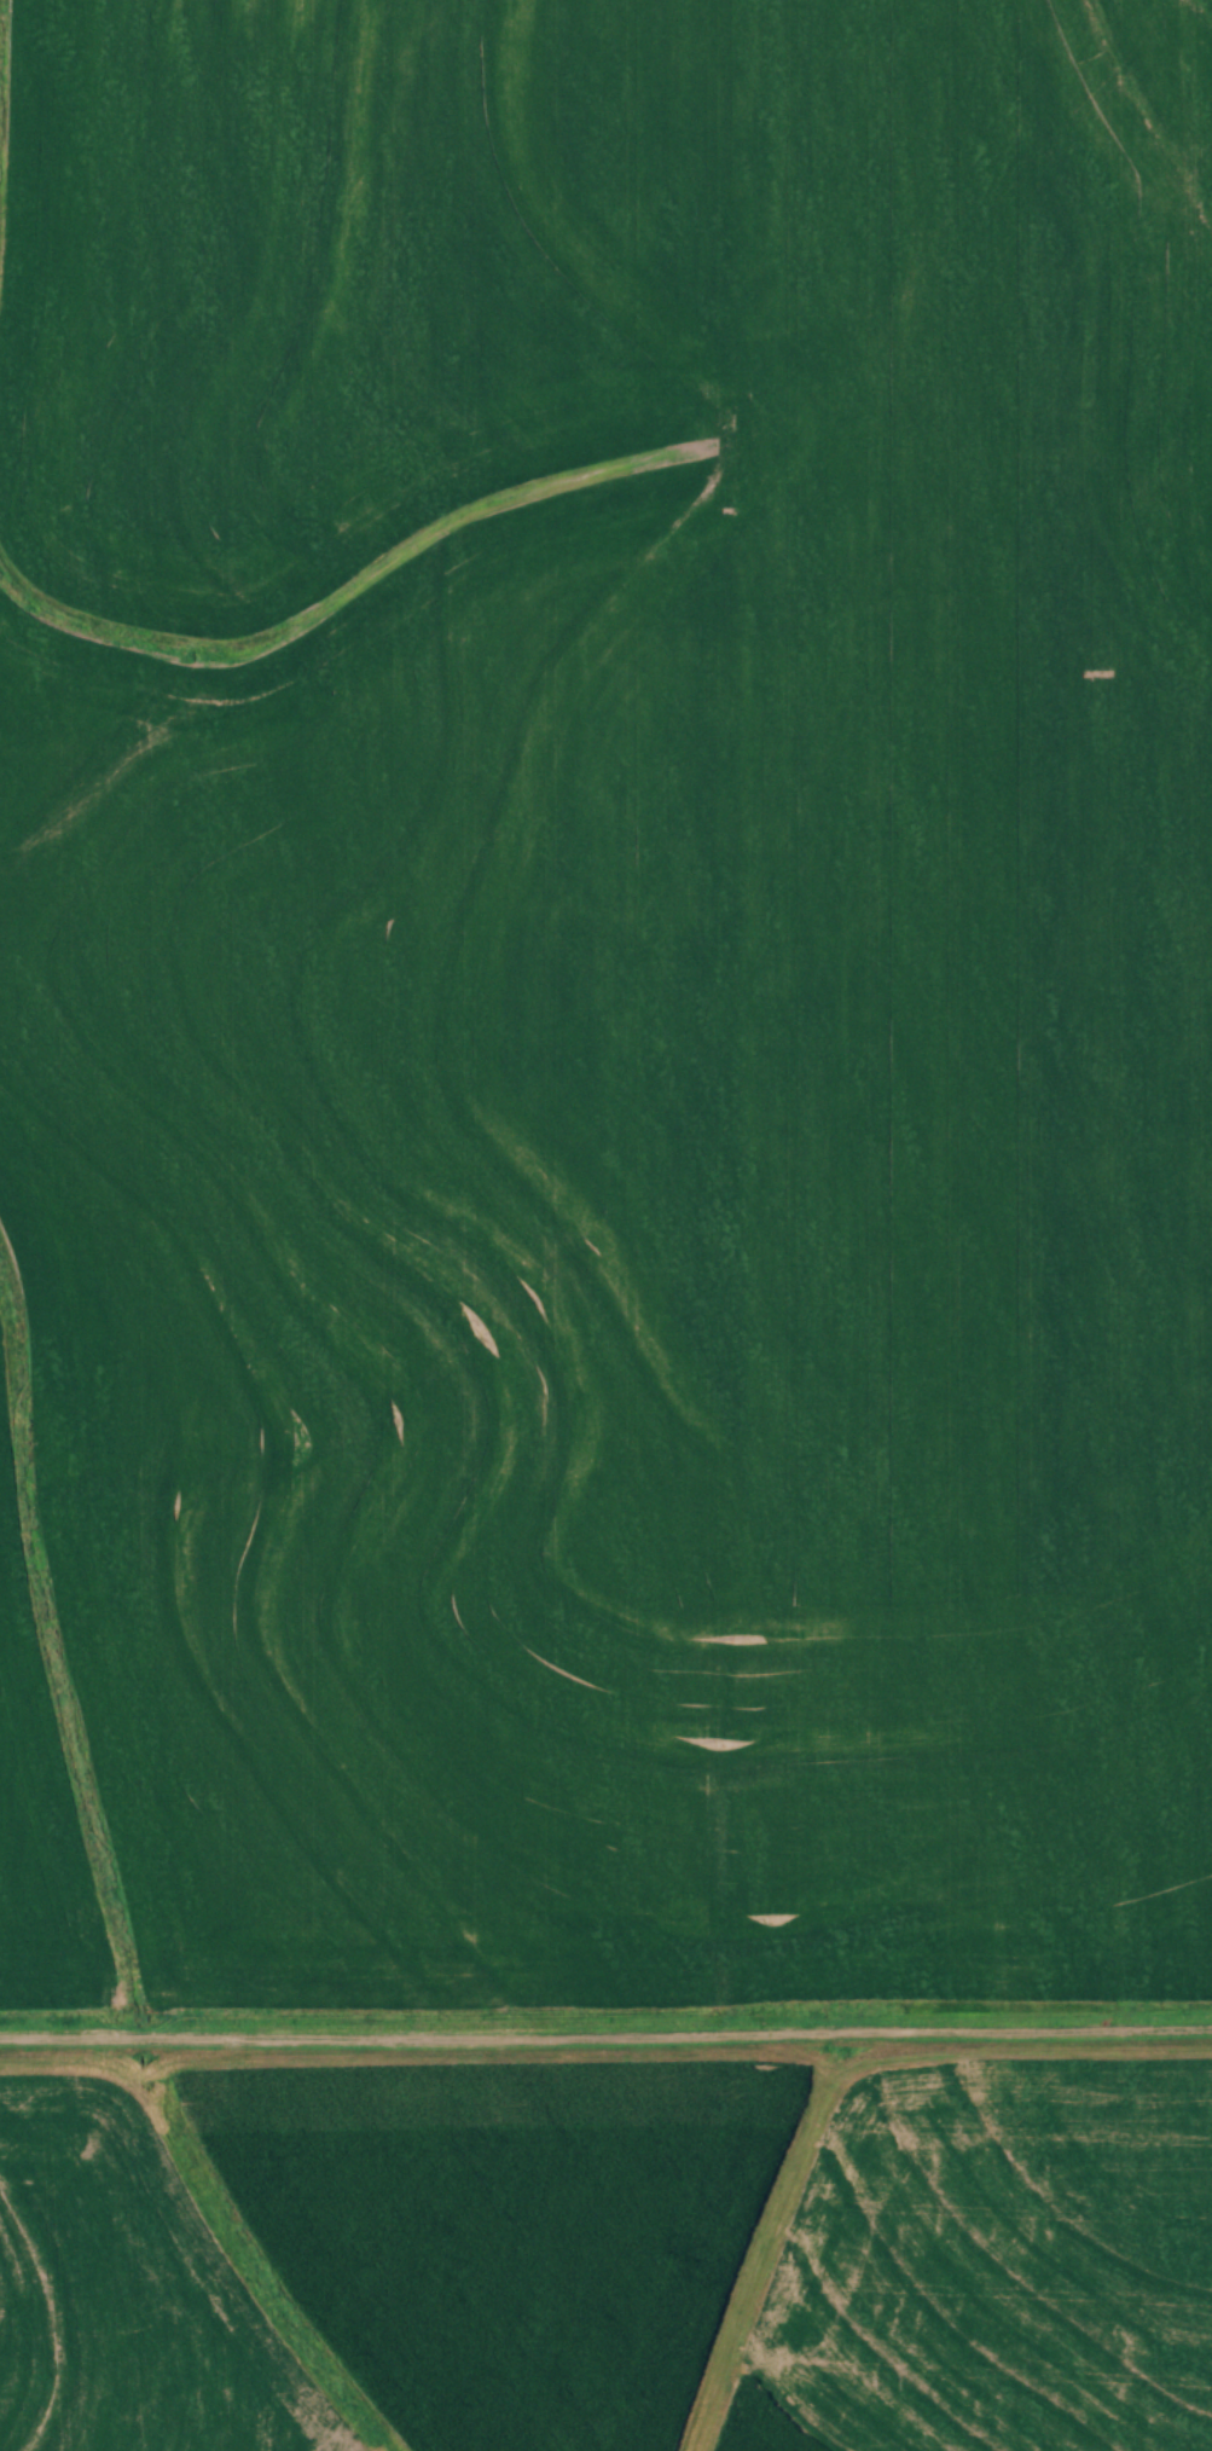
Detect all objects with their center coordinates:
road: (605, 2039)

